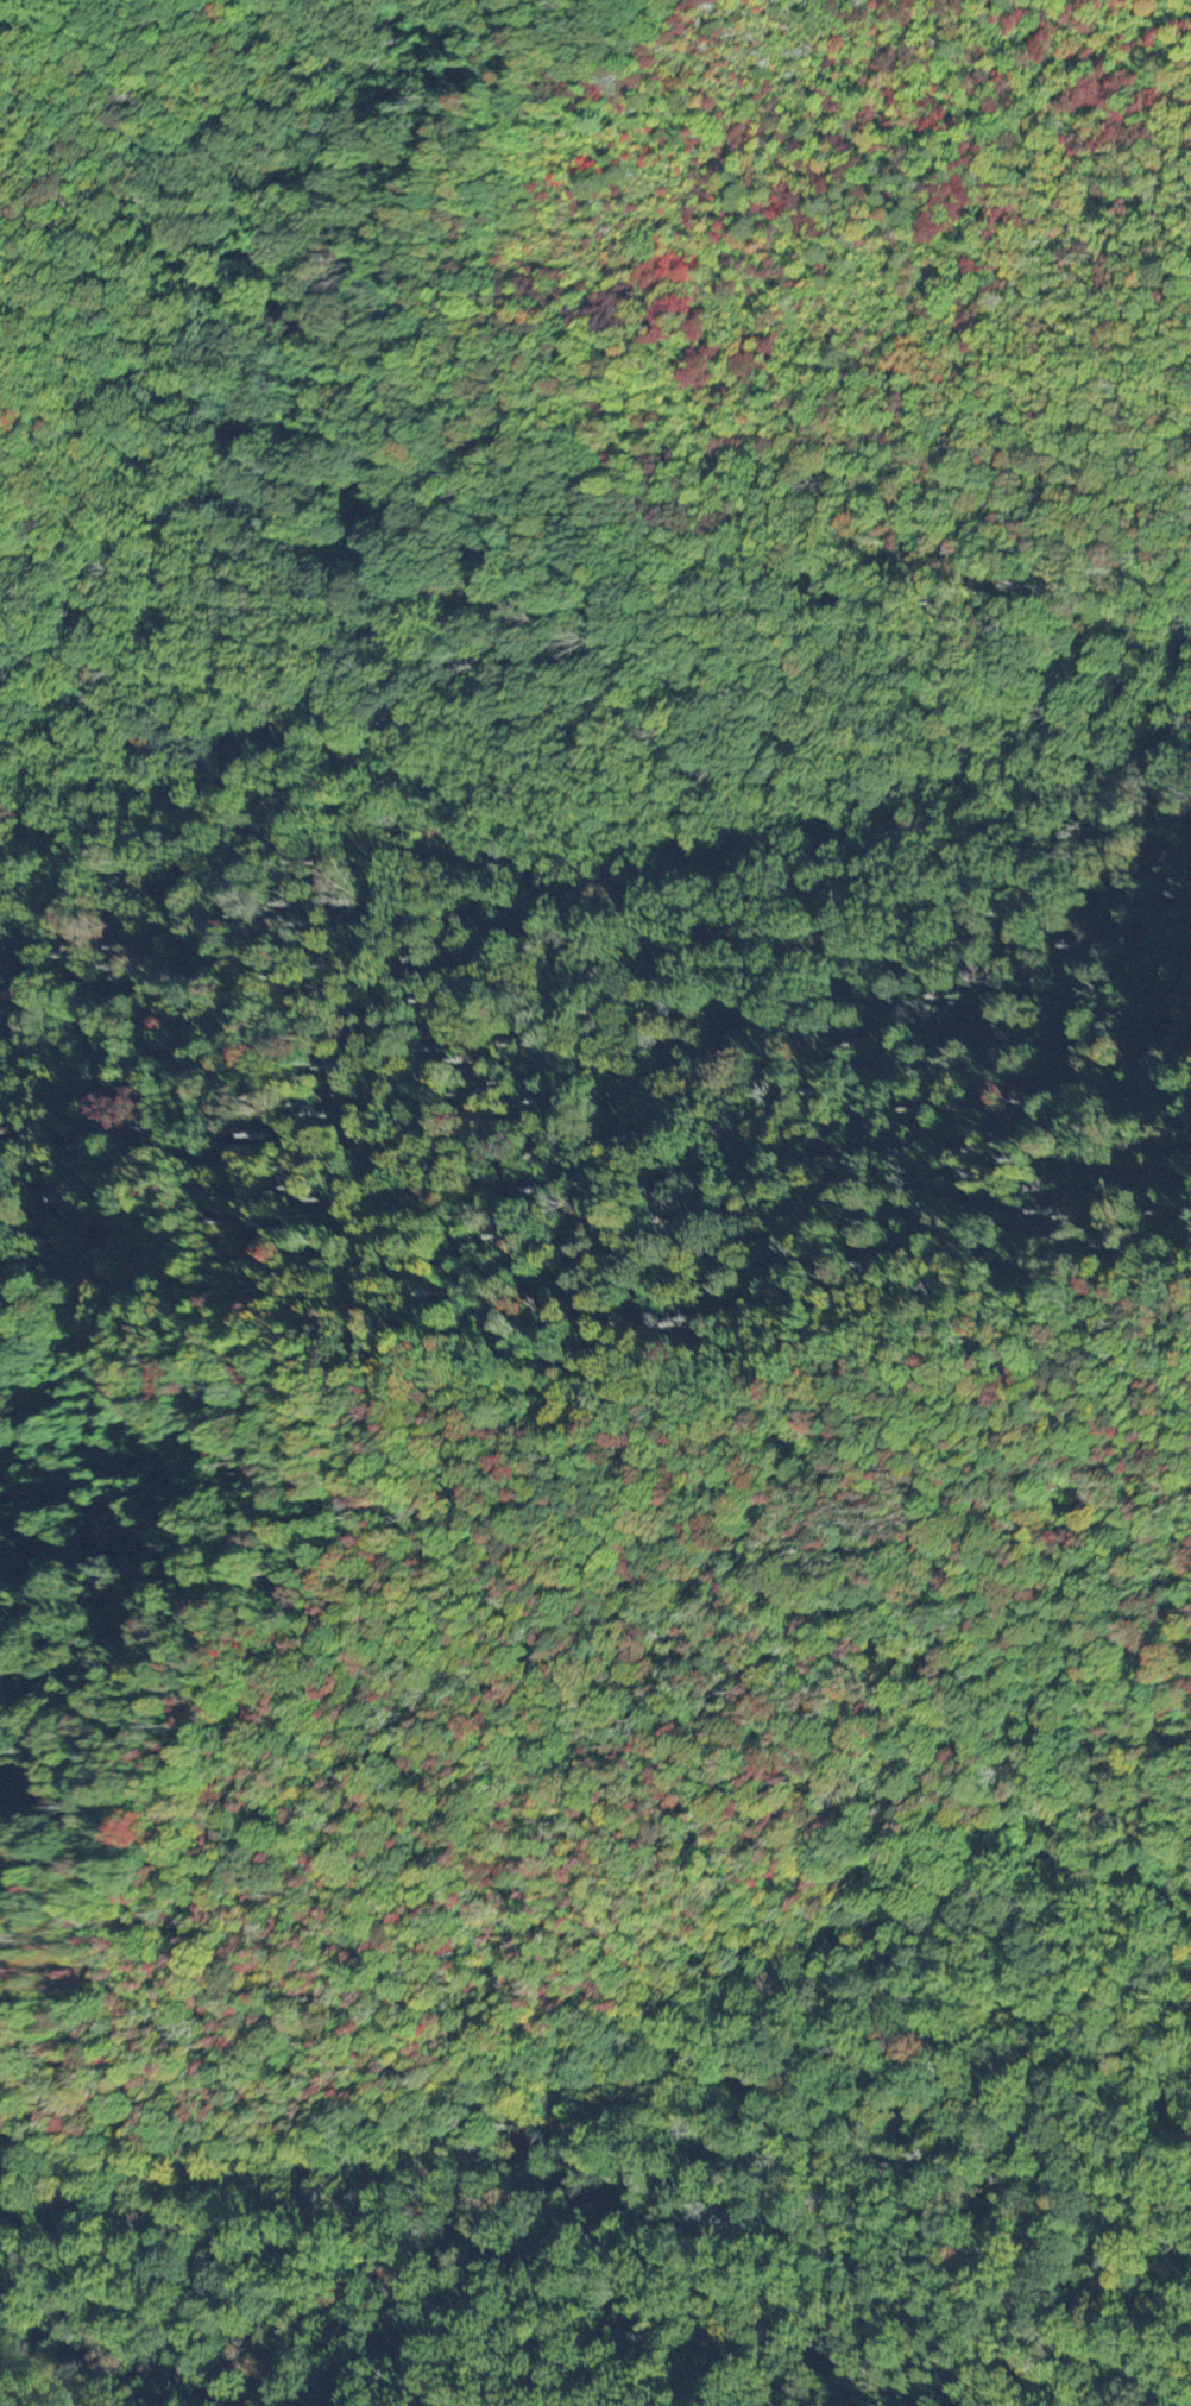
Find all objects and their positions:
road: (651, 2072)

